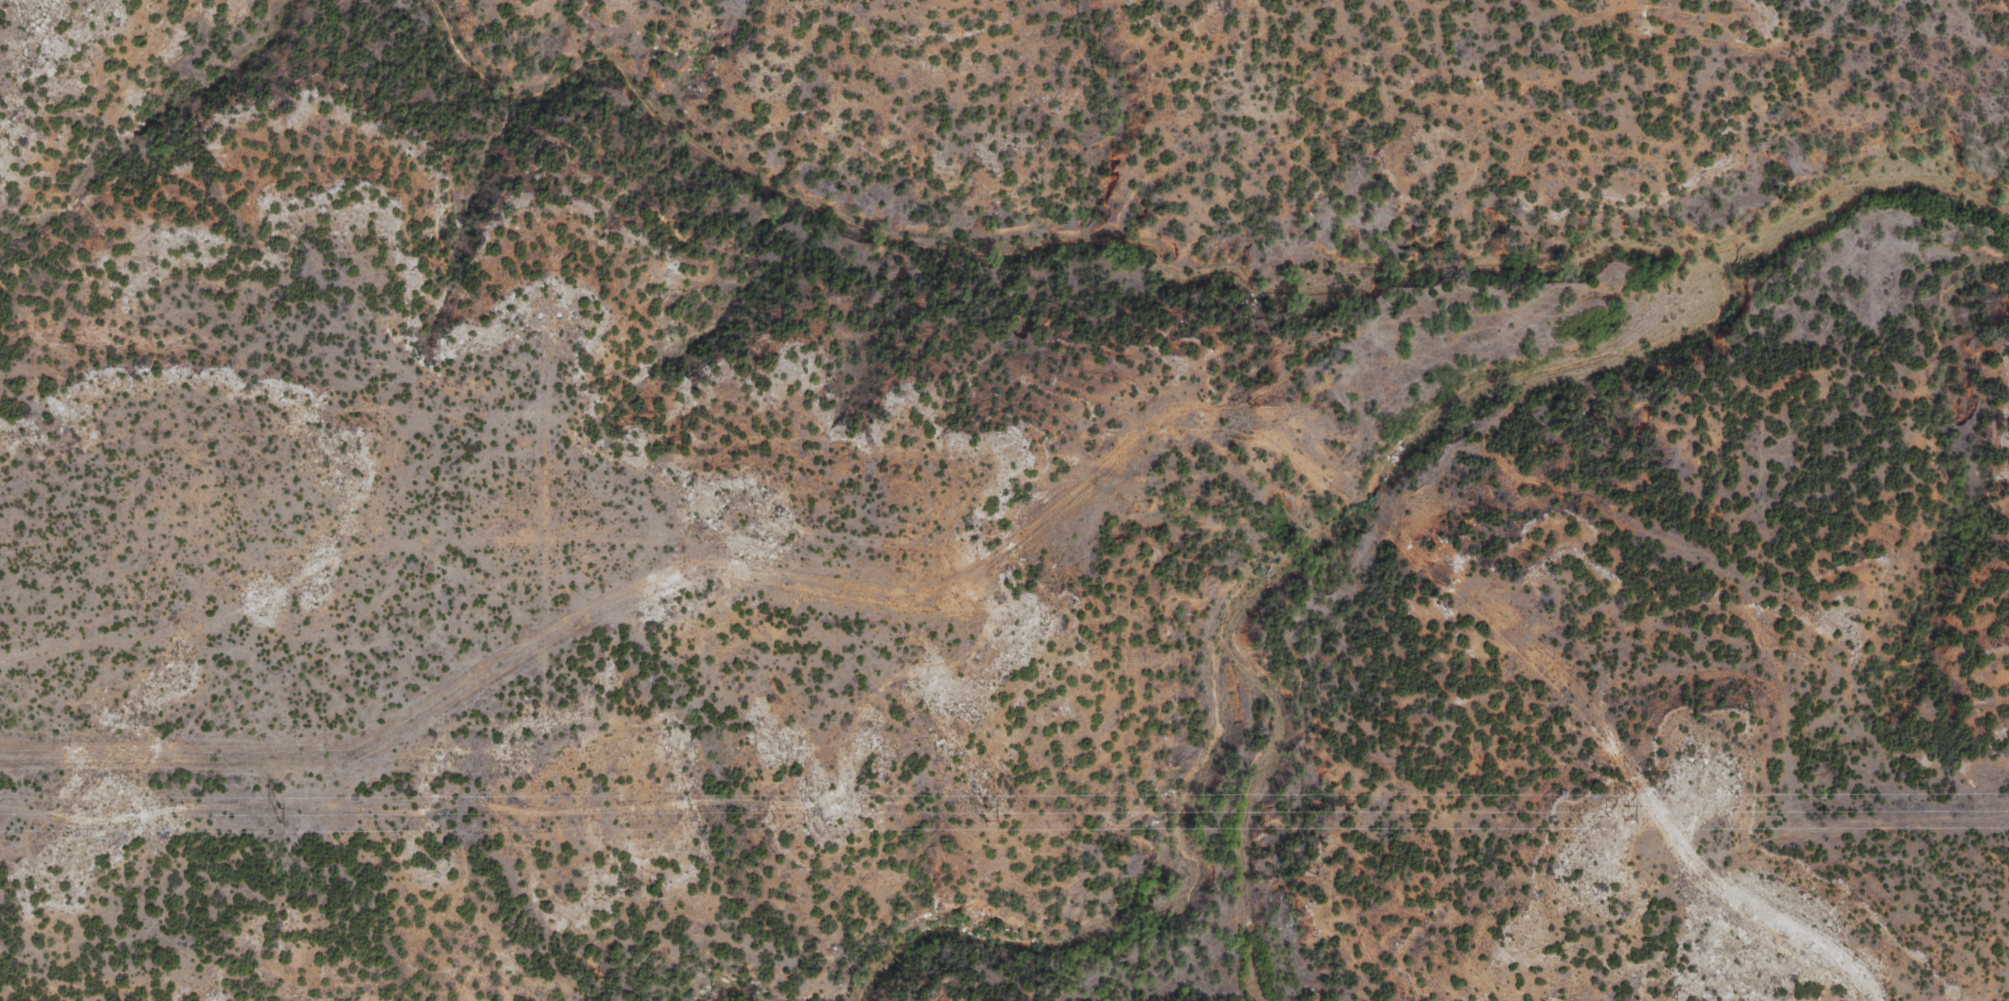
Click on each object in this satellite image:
power tower: (1620, 810)
power tower: (986, 813)
power tower: (281, 815)

